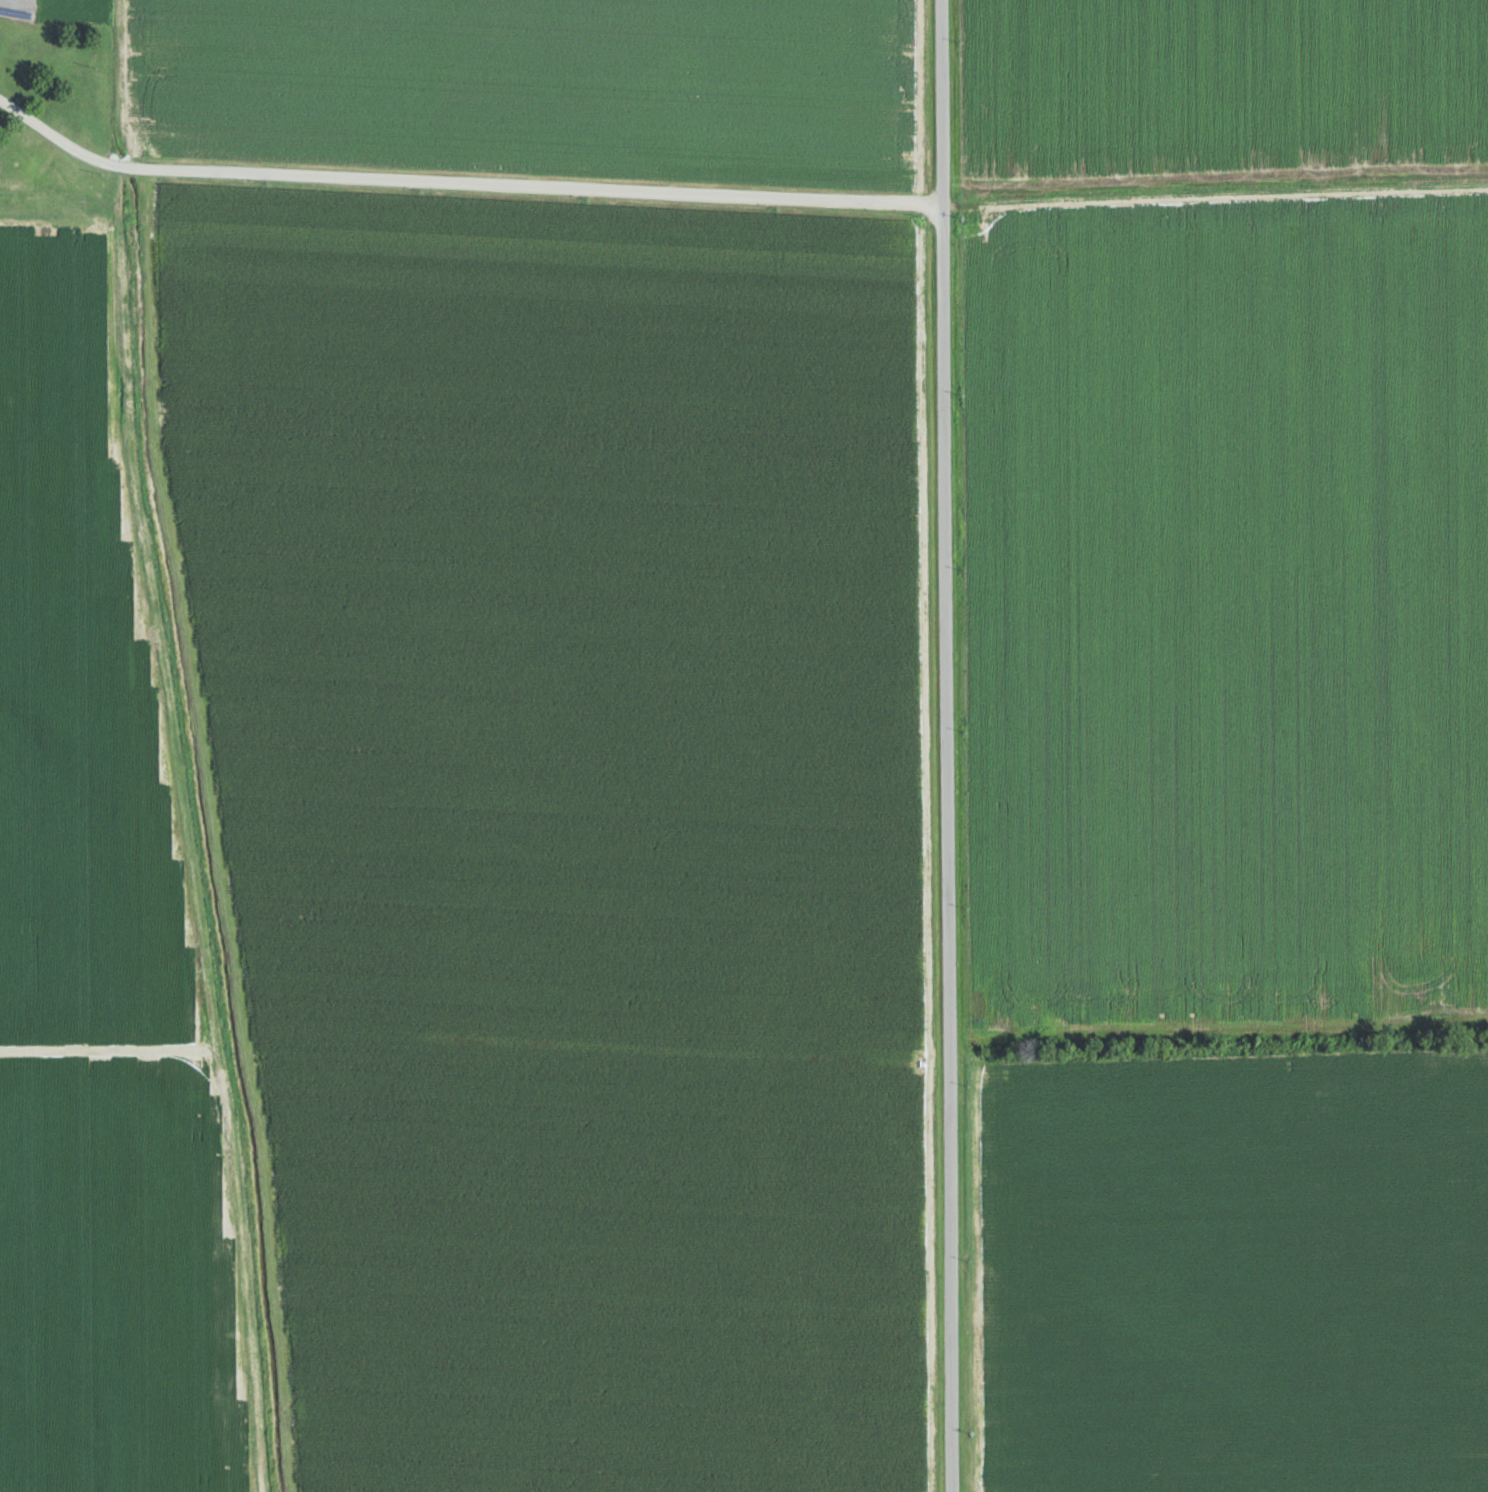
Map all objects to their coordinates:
road: (462, 180)
road: (946, 745)

